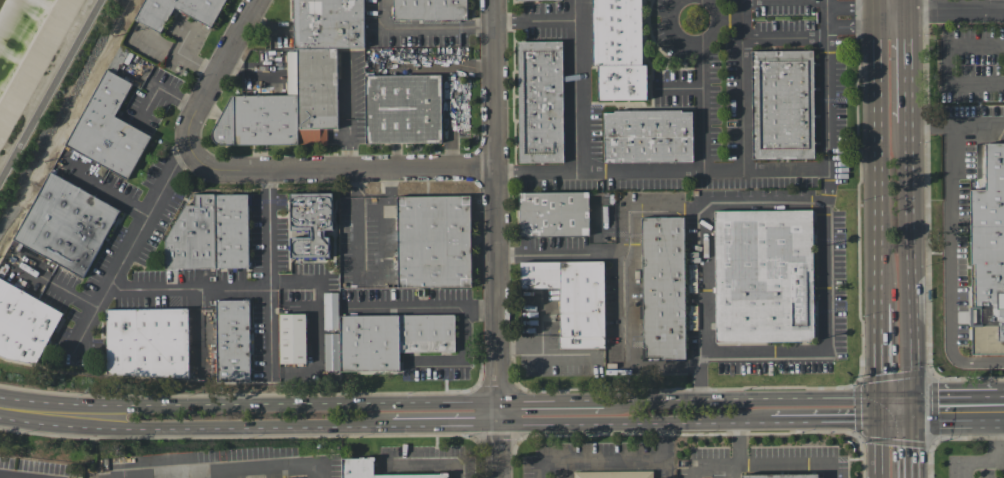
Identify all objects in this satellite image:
building: (524, 0)
road: (784, 0)
road: (876, 5)
road: (907, 7)
building: (430, 9)
road: (852, 10)
building: (202, 12)
road: (877, 12)
road: (956, 14)
road: (892, 15)
road: (539, 22)
road: (877, 22)
building: (329, 23)
road: (267, 27)
road: (427, 27)
road: (852, 29)
road: (153, 39)
road: (785, 40)
road: (694, 45)
building: (619, 50)
road: (222, 60)
road: (190, 62)
road: (944, 64)
road: (908, 68)
road: (583, 86)
road: (742, 86)
road: (678, 90)
road: (52, 93)
road: (828, 97)
building: (541, 101)
building: (783, 104)
building: (287, 106)
building: (403, 108)
road: (703, 108)
road: (956, 126)
building: (108, 128)
building: (649, 136)
road: (184, 158)
road: (878, 166)
road: (324, 169)
road: (662, 173)
road: (103, 193)
building: (554, 213)
road: (701, 219)
building: (311, 223)
building: (67, 227)
building: (232, 233)
building: (194, 239)
road: (496, 239)
building: (434, 240)
road: (947, 243)
road: (562, 252)
building: (988, 256)
road: (125, 260)
road: (910, 265)
road: (270, 275)
building: (765, 275)
building: (664, 286)
road: (56, 288)
road: (622, 288)
road: (189, 293)
building: (573, 298)
road: (459, 310)
road: (481, 314)
building: (24, 327)
road: (322, 330)
building: (391, 339)
building: (294, 341)
building: (234, 342)
building: (149, 344)
road: (825, 353)
road: (561, 361)
road: (879, 361)
road: (978, 361)
road: (758, 397)
traffic signals: (880, 397)
road: (550, 399)
road: (248, 402)
road: (1001, 407)
road: (955, 408)
traffic signals: (912, 409)
road: (841, 420)
traffic signals: (880, 420)
road: (717, 421)
road: (581, 423)
road: (444, 425)
road: (194, 427)
road: (912, 443)
road: (880, 449)
road: (794, 459)
road: (997, 459)
road: (614, 460)
road: (426, 463)
building: (356, 465)
road: (733, 468)
road: (271, 473)
building: (613, 474)
road: (733, 474)
building: (779, 475)

